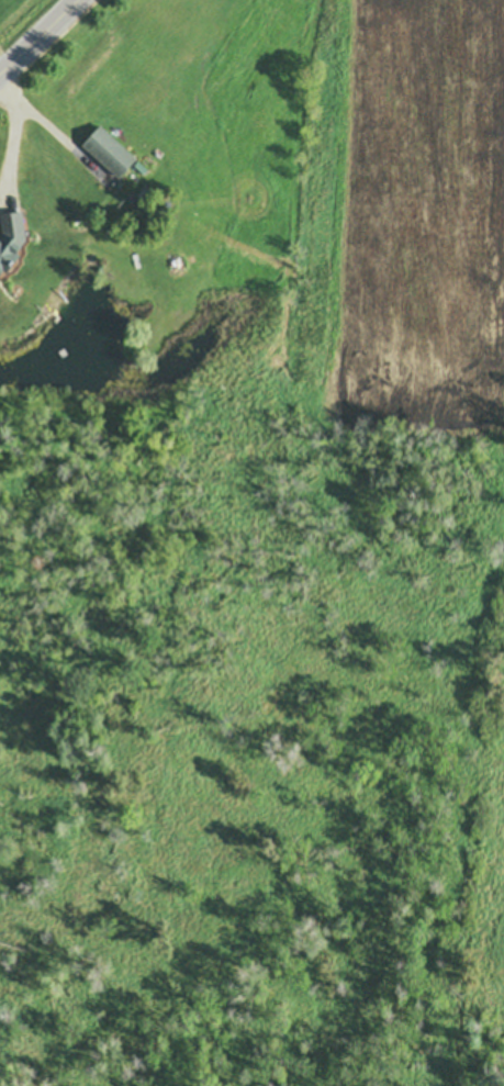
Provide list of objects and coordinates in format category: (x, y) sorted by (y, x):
road: (38, 36)
building: (109, 147)
building: (141, 164)
crop: (419, 213)
building: (11, 234)

